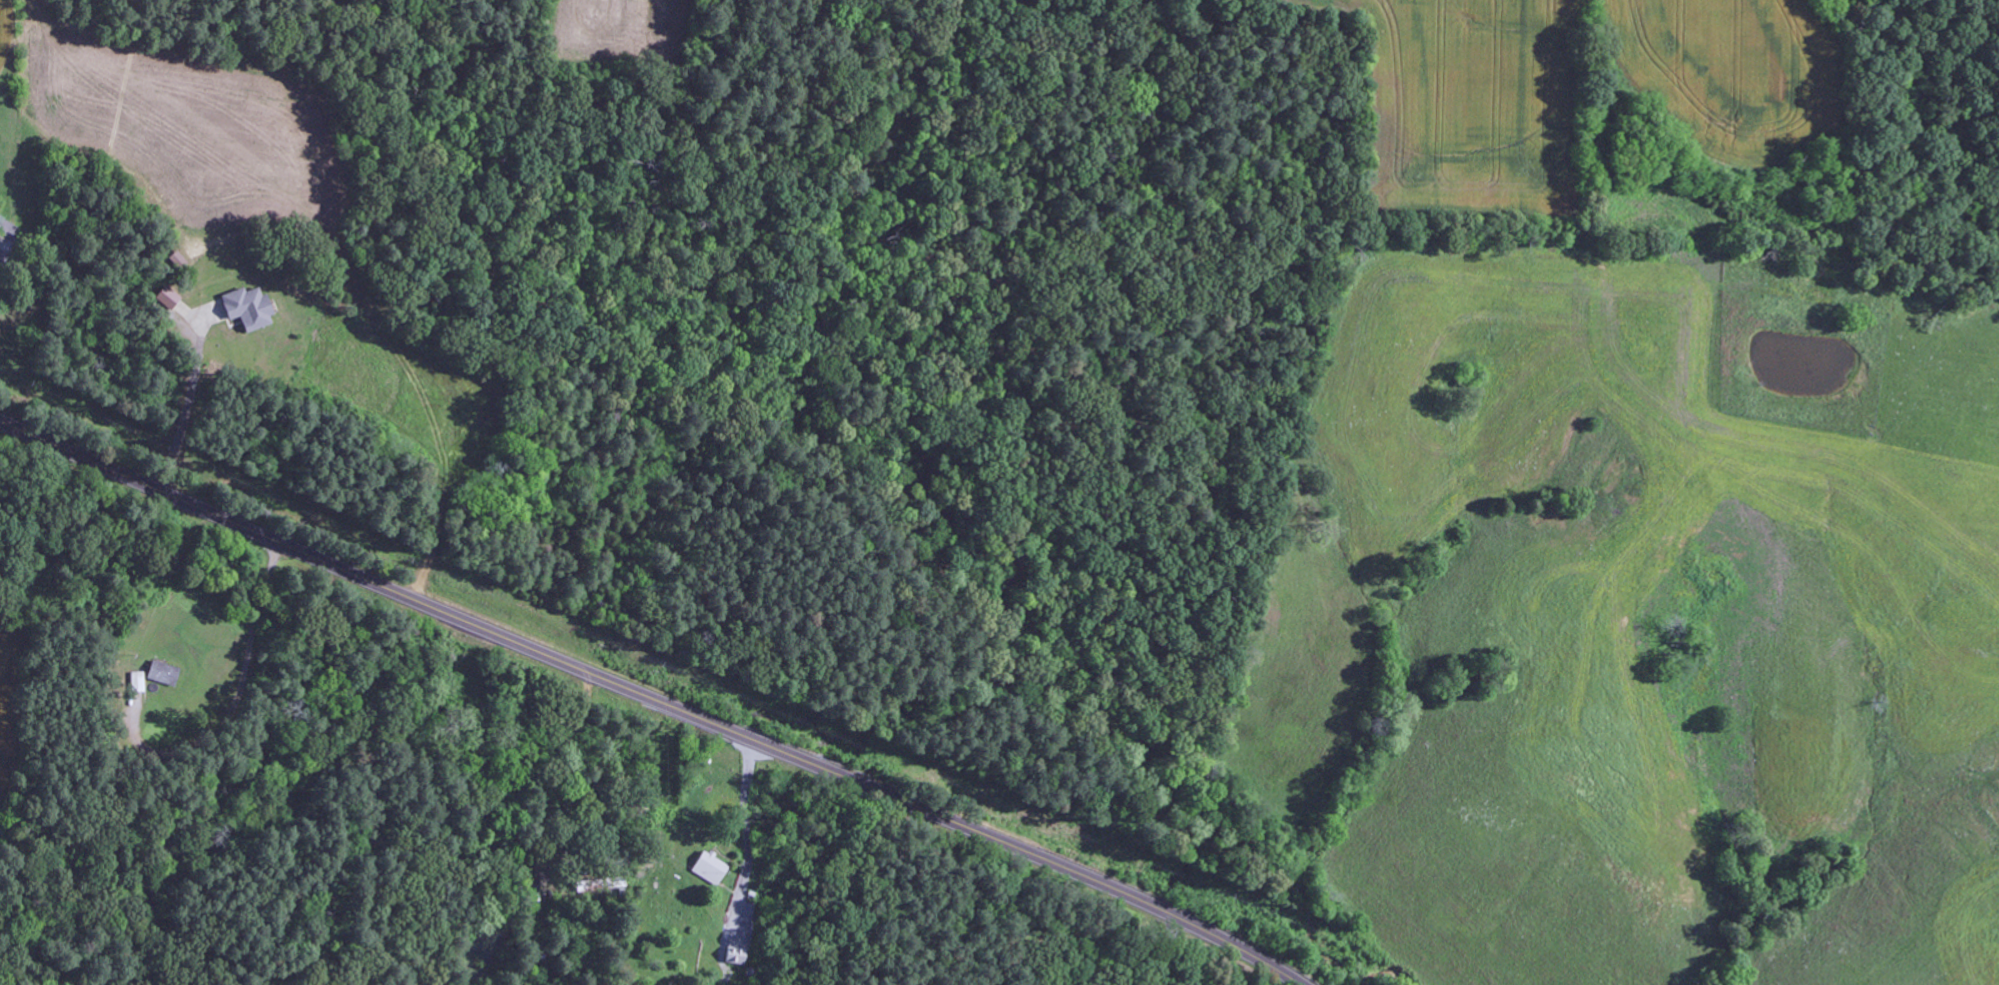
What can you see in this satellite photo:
building: (1, 220)
building: (166, 298)
building: (247, 308)
building: (162, 674)
building: (137, 682)
road: (660, 701)
building: (708, 868)

